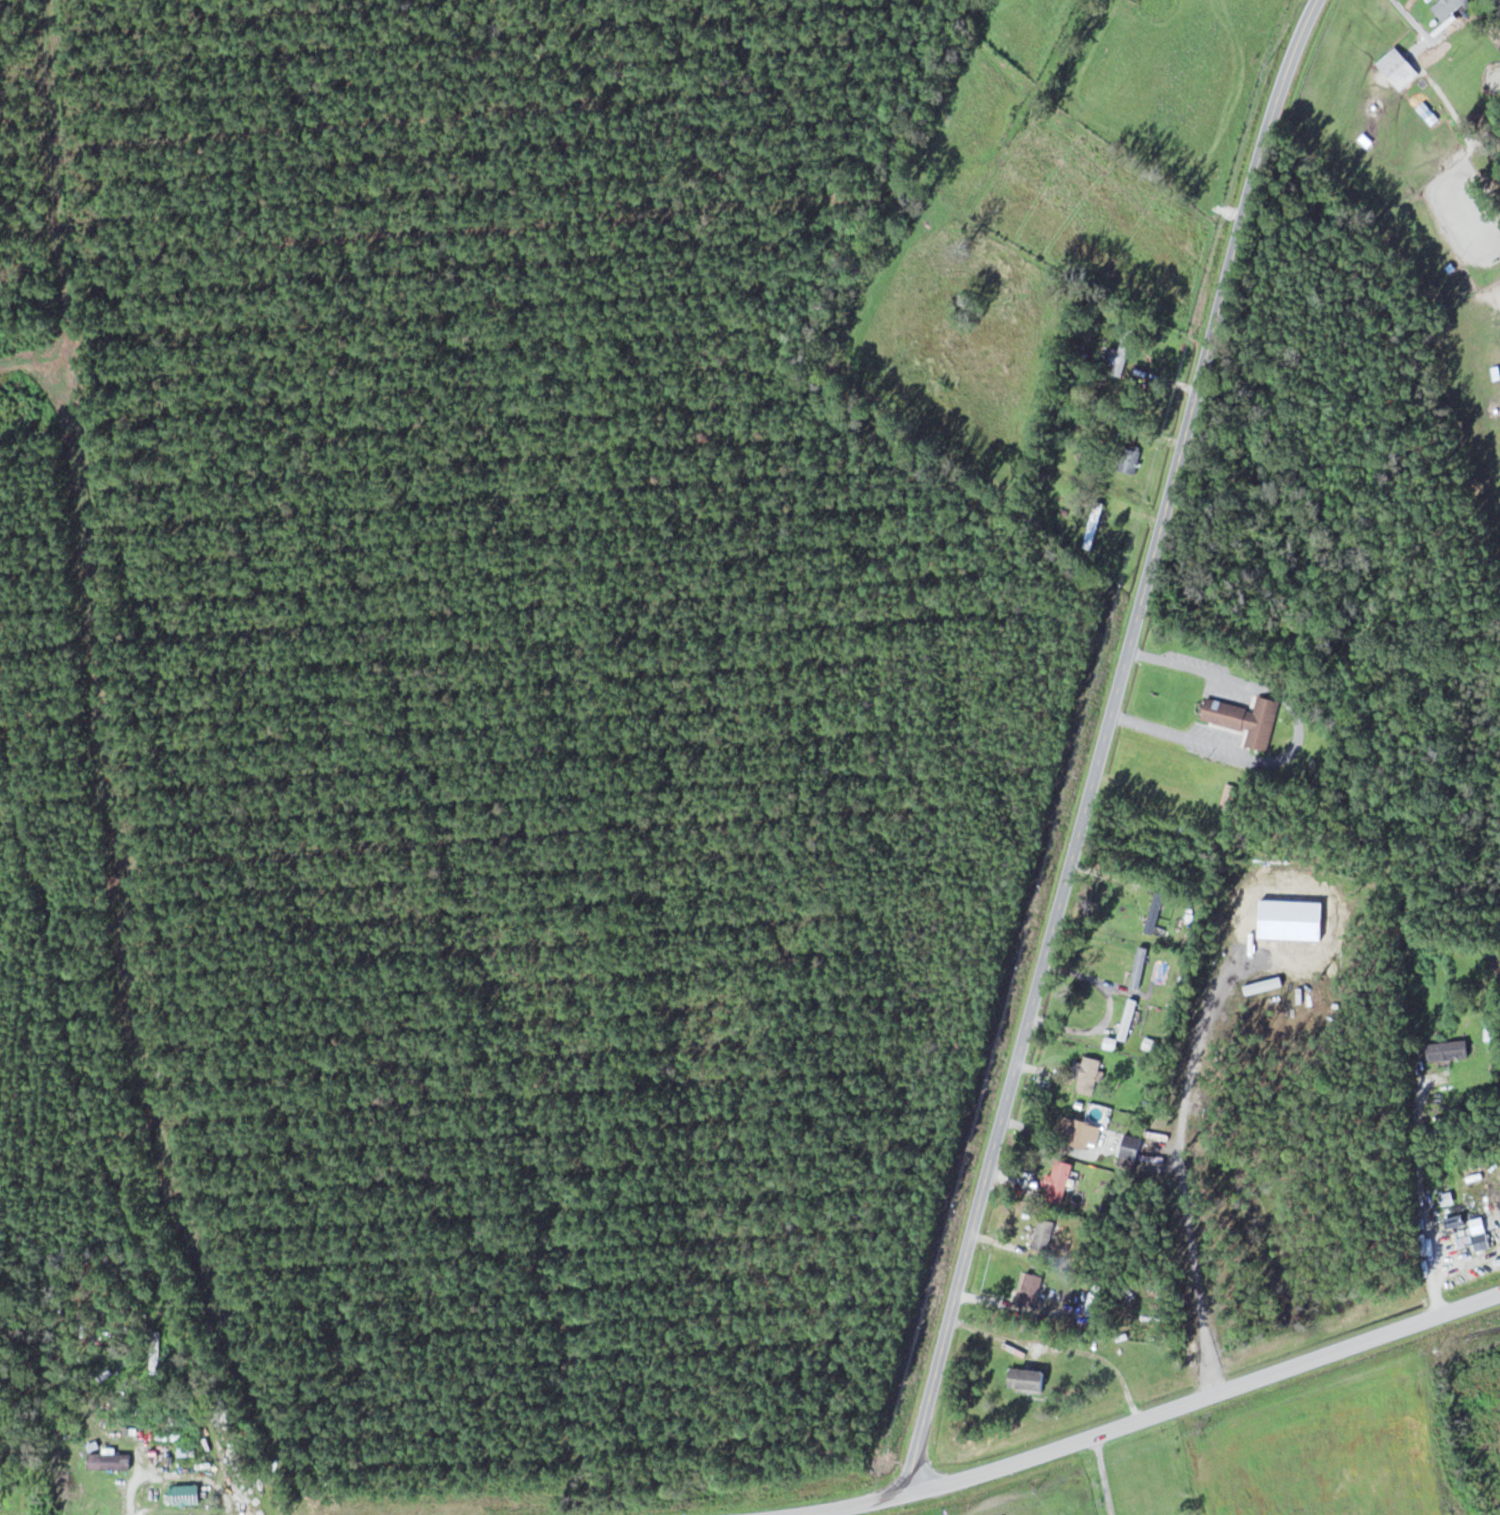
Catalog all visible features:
building: (1447, 7)
building: (1398, 67)
building: (1120, 355)
building: (1129, 456)
building: (1096, 525)
building: (1246, 719)
road: (1107, 743)
building: (1228, 796)
building: (1154, 912)
building: (1160, 971)
building: (1127, 1019)
building: (1448, 1050)
building: (1088, 1075)
building: (1079, 1132)
building: (1131, 1151)
building: (1059, 1181)
building: (1045, 1234)
building: (1479, 1234)
building: (1030, 1290)
building: (1027, 1380)
road: (1203, 1397)
building: (166, 1412)
building: (186, 1455)
building: (146, 1476)
building: (184, 1494)
road: (843, 1502)

